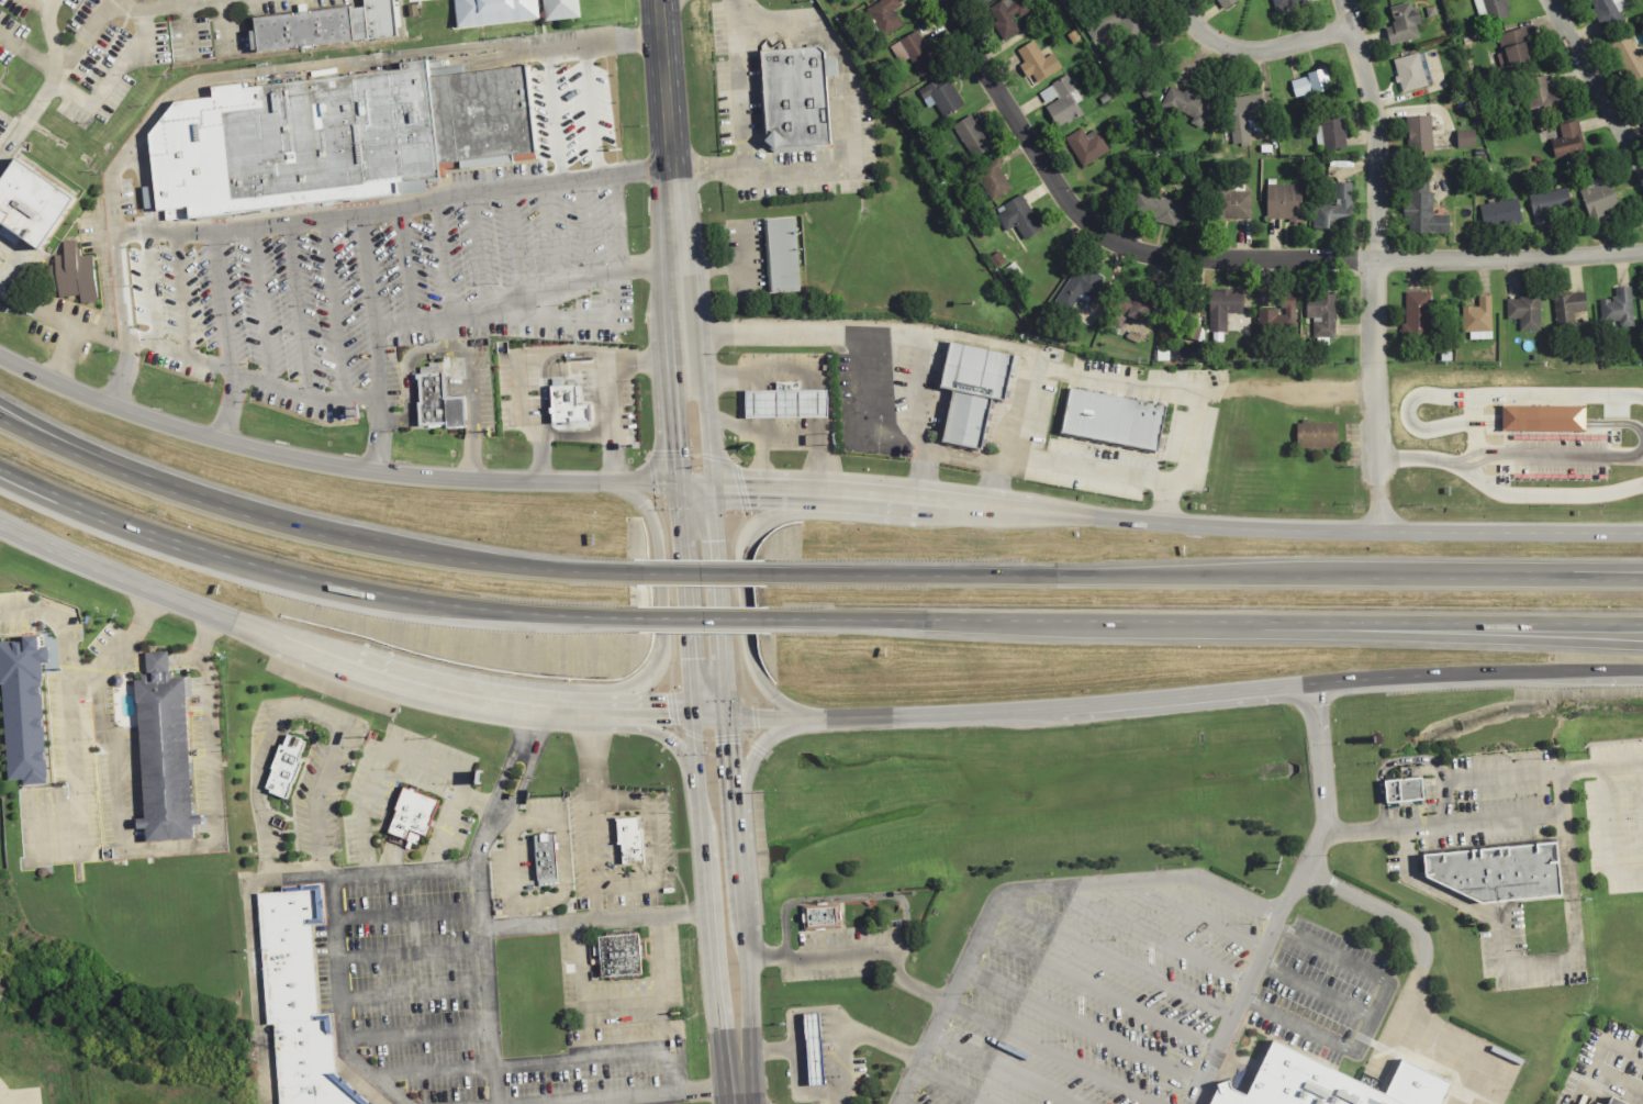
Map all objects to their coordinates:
road: (43, 2)
road: (172, 2)
building: (1223, 3)
building: (1286, 3)
road: (160, 7)
building: (559, 9)
building: (1489, 9)
building: (490, 11)
building: (1606, 12)
building: (884, 14)
building: (1006, 15)
building: (1117, 22)
building: (1401, 23)
building: (328, 25)
road: (228, 27)
road: (189, 32)
road: (49, 36)
road: (1258, 45)
building: (1510, 46)
building: (913, 53)
road: (29, 54)
building: (1629, 58)
building: (1036, 62)
road: (365, 63)
building: (1409, 73)
road: (54, 76)
road: (112, 78)
building: (1309, 83)
road: (1591, 94)
building: (794, 97)
building: (941, 97)
building: (1541, 98)
building: (1640, 101)
building: (1060, 102)
building: (1184, 103)
road: (846, 105)
road: (591, 109)
road: (554, 112)
building: (1242, 114)
building: (478, 115)
road: (742, 121)
building: (1331, 132)
building: (1417, 132)
building: (970, 136)
building: (1464, 138)
building: (1567, 141)
building: (291, 143)
building: (1084, 145)
building: (993, 178)
road: (144, 183)
road: (672, 190)
building: (1597, 194)
building: (31, 202)
building: (1283, 202)
building: (1232, 203)
building: (1546, 204)
road: (329, 208)
building: (1333, 209)
building: (1158, 210)
building: (1420, 210)
building: (1499, 214)
building: (1016, 216)
road: (615, 222)
road: (584, 226)
road: (163, 227)
road: (549, 232)
road: (513, 236)
road: (478, 250)
road: (444, 255)
building: (781, 255)
road: (1230, 257)
road: (404, 260)
road: (1377, 264)
road: (365, 265)
building: (72, 274)
parking lot: (392, 276)
road: (149, 286)
road: (3, 287)
building: (1078, 288)
road: (119, 291)
road: (182, 291)
building: (132, 292)
road: (261, 301)
road: (334, 303)
road: (299, 305)
building: (1136, 308)
building: (1220, 308)
building: (1616, 308)
building: (1566, 309)
building: (1522, 311)
road: (463, 313)
building: (1321, 316)
building: (1413, 316)
building: (1276, 319)
building: (1474, 321)
road: (77, 324)
road: (954, 338)
road: (177, 350)
road: (64, 355)
road: (540, 358)
road: (607, 359)
road: (789, 371)
building: (974, 371)
road: (406, 383)
road: (519, 386)
road: (471, 388)
building: (562, 389)
road: (1299, 392)
road: (302, 394)
road: (1466, 397)
building: (434, 398)
building: (782, 403)
gas station: (782, 403)
road: (1021, 406)
building: (1110, 417)
building: (1540, 419)
building: (966, 420)
road: (1541, 421)
road: (705, 430)
road: (675, 431)
road: (578, 433)
road: (789, 433)
building: (1317, 435)
road: (892, 436)
road: (1641, 455)
road: (1587, 457)
road: (759, 459)
road: (975, 459)
road: (346, 465)
road: (921, 473)
road: (1137, 478)
traffic signals: (680, 483)
traffic signals: (712, 484)
road: (1506, 494)
road: (1169, 501)
road: (1176, 518)
road: (303, 532)
road: (696, 570)
road: (1205, 575)
road: (1611, 576)
road: (305, 578)
road: (690, 599)
road: (655, 601)
road: (749, 601)
road: (702, 616)
road: (57, 617)
road: (1207, 622)
road: (1476, 633)
road: (299, 646)
road: (137, 662)
road: (92, 671)
road: (1128, 695)
building: (22, 709)
road: (303, 713)
traffic signals: (728, 713)
traffic signals: (701, 714)
road: (530, 725)
road: (769, 735)
road: (671, 736)
road: (406, 754)
road: (702, 754)
building: (165, 758)
road: (1384, 763)
building: (286, 767)
road: (1599, 768)
road: (502, 770)
road: (75, 776)
road: (1499, 776)
road: (522, 779)
road: (733, 788)
building: (1400, 790)
road: (1560, 794)
road: (1444, 803)
road: (479, 804)
parking lot: (1472, 805)
building: (412, 810)
road: (593, 812)
parking lot: (1614, 816)
road: (1504, 822)
road: (1383, 830)
road: (1609, 833)
building: (629, 841)
road: (174, 845)
road: (653, 845)
road: (708, 854)
building: (545, 858)
building: (1495, 870)
road: (1433, 886)
road: (1027, 890)
road: (563, 892)
road: (1567, 894)
road: (1287, 897)
road: (848, 899)
road: (516, 914)
building: (820, 915)
road: (404, 916)
road: (1197, 916)
road: (595, 919)
road: (331, 932)
road: (1152, 938)
road: (481, 950)
parking lot: (842, 951)
road: (857, 951)
road: (253, 952)
road: (406, 956)
parking lot: (1515, 956)
building: (617, 958)
road: (1116, 961)
road: (1509, 969)
road: (1412, 988)
parking lot: (617, 990)
road: (1314, 991)
parking lot: (1130, 992)
road: (1100, 993)
road: (409, 994)
parking lot: (438, 997)
building: (295, 1002)
road: (582, 1003)
road: (719, 1003)
road: (662, 1005)
road: (1372, 1016)
road: (1084, 1025)
road: (413, 1035)
road: (879, 1041)
road: (682, 1044)
building: (812, 1050)
gas station: (812, 1050)
road: (772, 1051)
road: (1054, 1053)
parking lot: (1606, 1056)
road: (1596, 1058)
road: (519, 1063)
road: (1002, 1070)
parking lot: (861, 1081)
building: (1321, 1083)
road: (952, 1086)
road: (839, 1090)
parking lot: (20, 1095)
road: (645, 1096)
road: (739, 1096)
road: (0, 1097)
road: (839, 1097)
building: (1610, 1102)
building: (1616, 1102)
road: (902, 1103)

